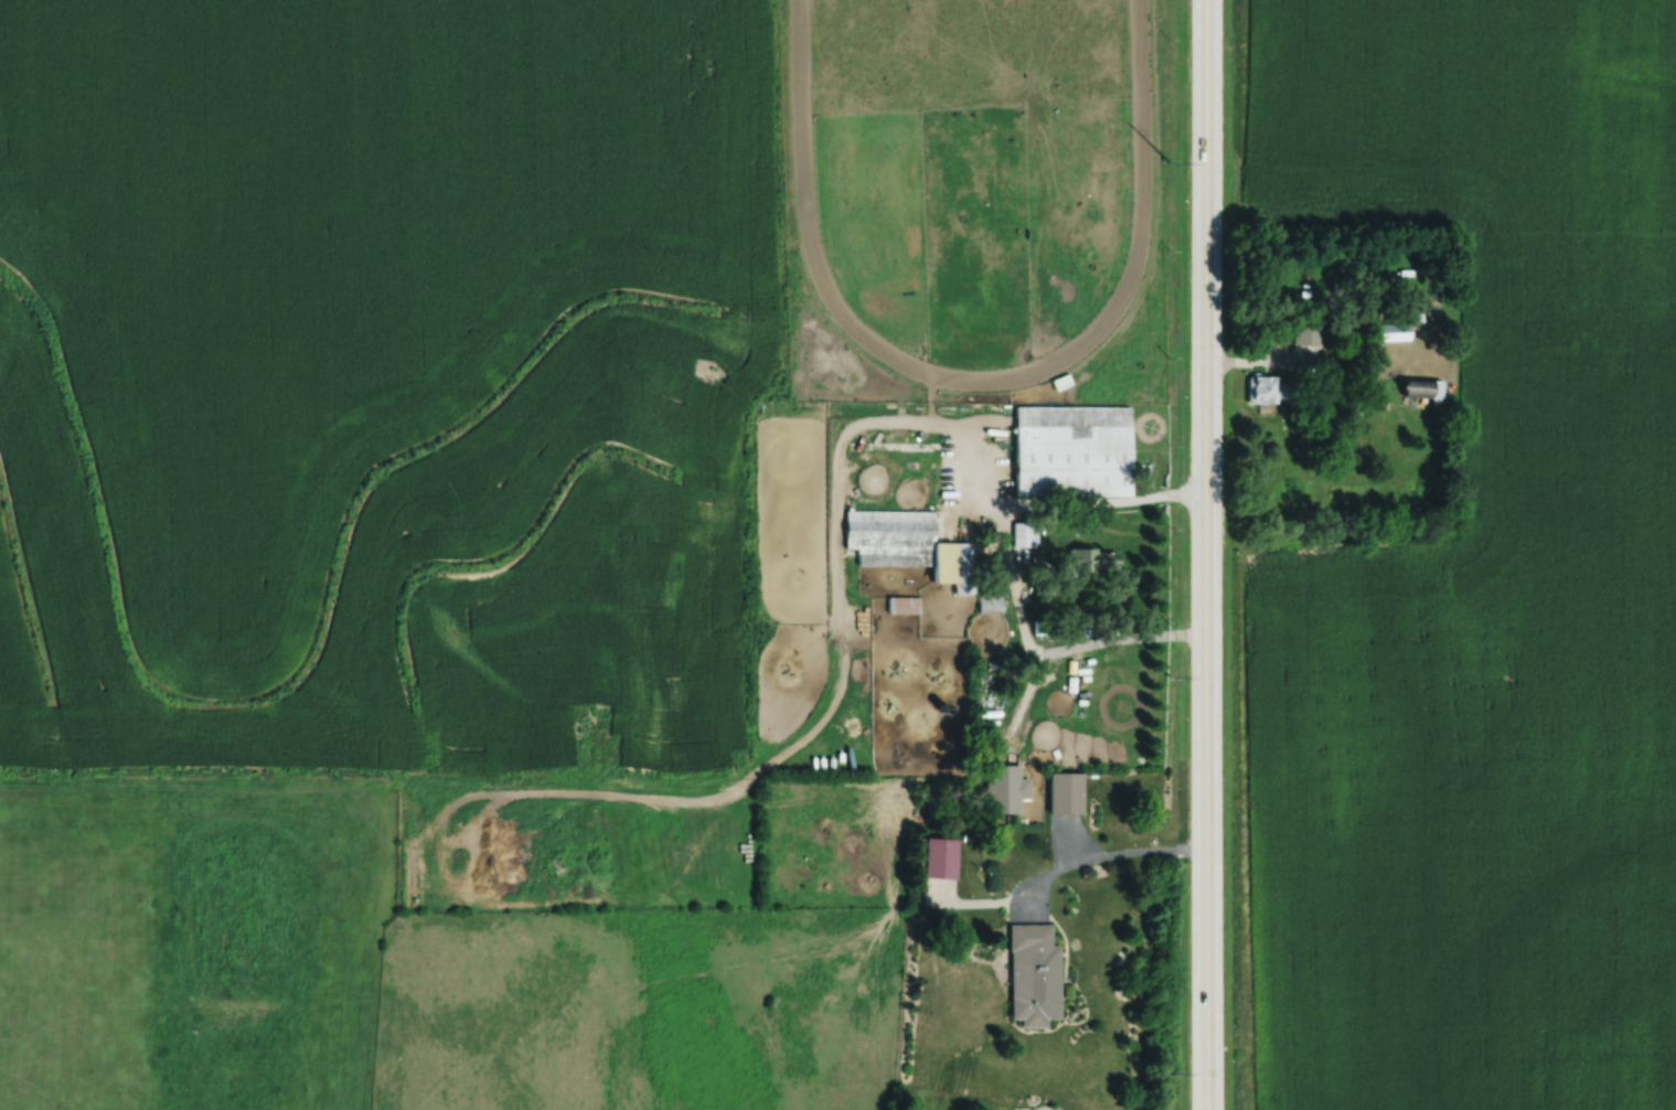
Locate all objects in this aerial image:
power tower: (1167, 162)
building: (1390, 331)
building: (1304, 335)
building: (1416, 387)
building: (1263, 389)
building: (1067, 450)
building: (1022, 534)
building: (907, 546)
road: (1204, 554)
building: (1086, 562)
road: (1010, 569)
building: (986, 604)
building: (899, 606)
power tower: (1167, 679)
building: (1001, 789)
building: (1060, 793)
road: (1097, 856)
building: (937, 858)
building: (1029, 975)
power tower: (1167, 1072)

